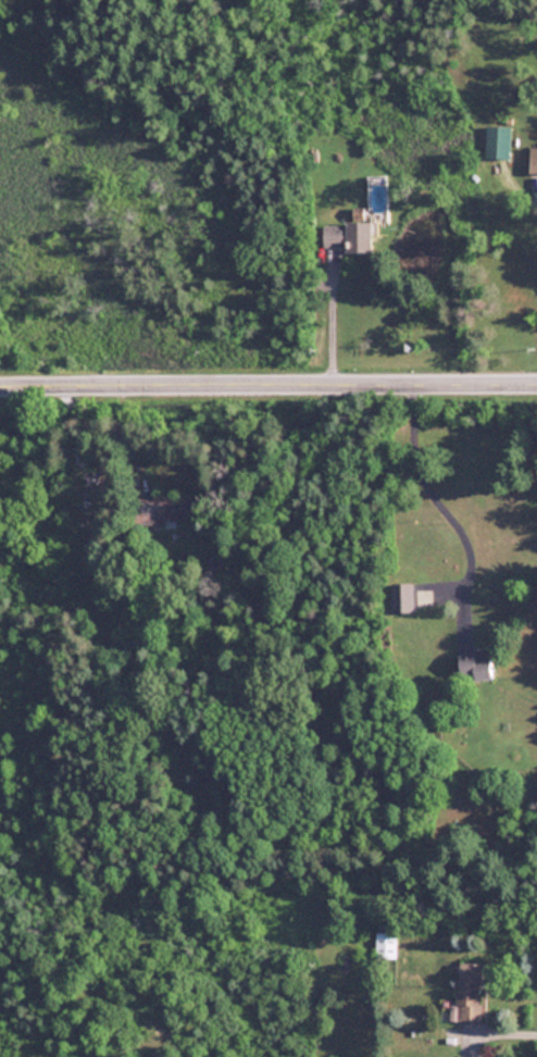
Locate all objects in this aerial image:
building: (500, 144)
building: (534, 162)
building: (352, 238)
road: (328, 320)
road: (268, 380)
road: (430, 492)
building: (170, 510)
building: (403, 598)
building: (482, 667)
building: (389, 946)
building: (474, 994)
road: (507, 1033)

